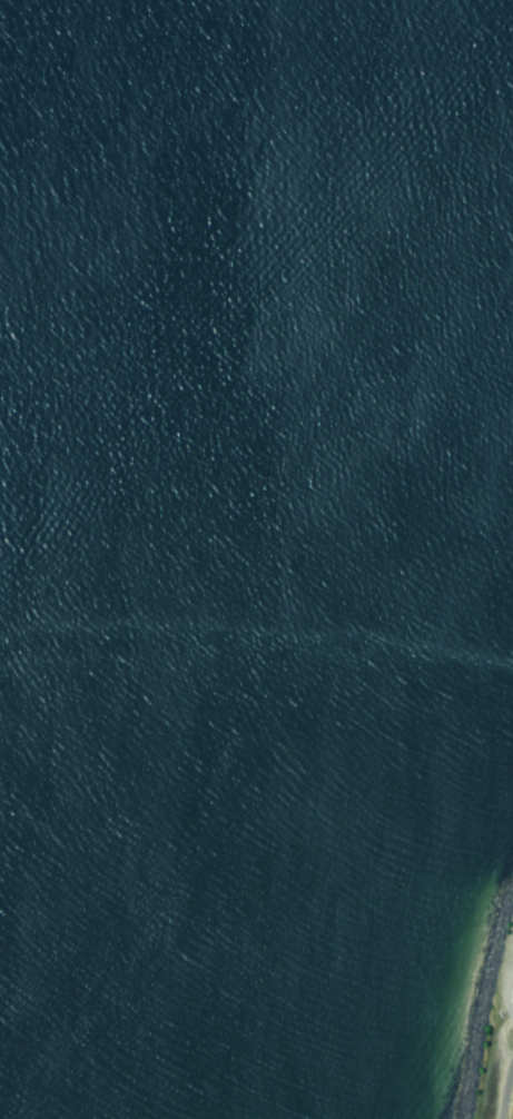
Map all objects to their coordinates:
river: (219, 425)
road: (507, 1004)
road: (500, 1080)

